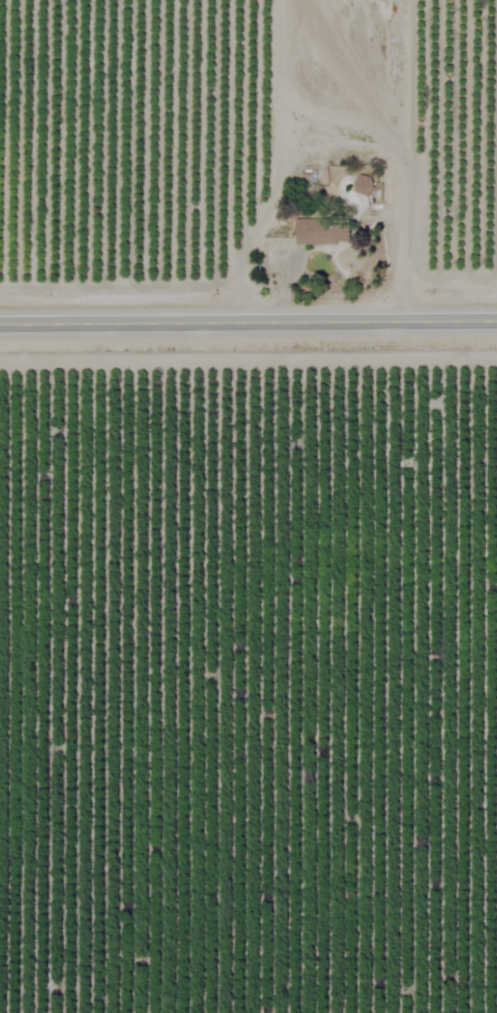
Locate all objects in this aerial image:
crop: (248, 133)
road: (280, 167)
building: (359, 183)
building: (318, 231)
road: (248, 335)
crop: (248, 682)

